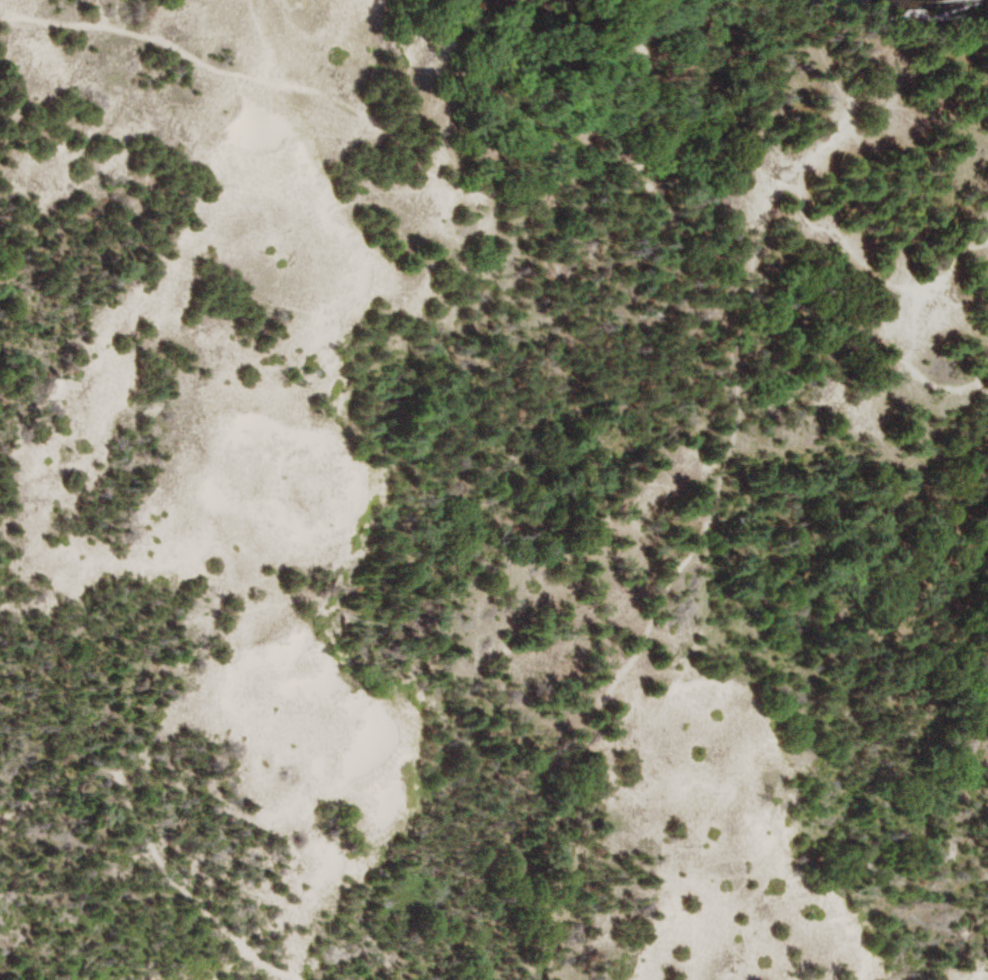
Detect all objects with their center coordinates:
road: (880, 8)
road: (957, 8)
road: (960, 15)
road: (513, 198)
road: (972, 372)
park: (494, 490)
road: (624, 661)
road: (144, 835)

